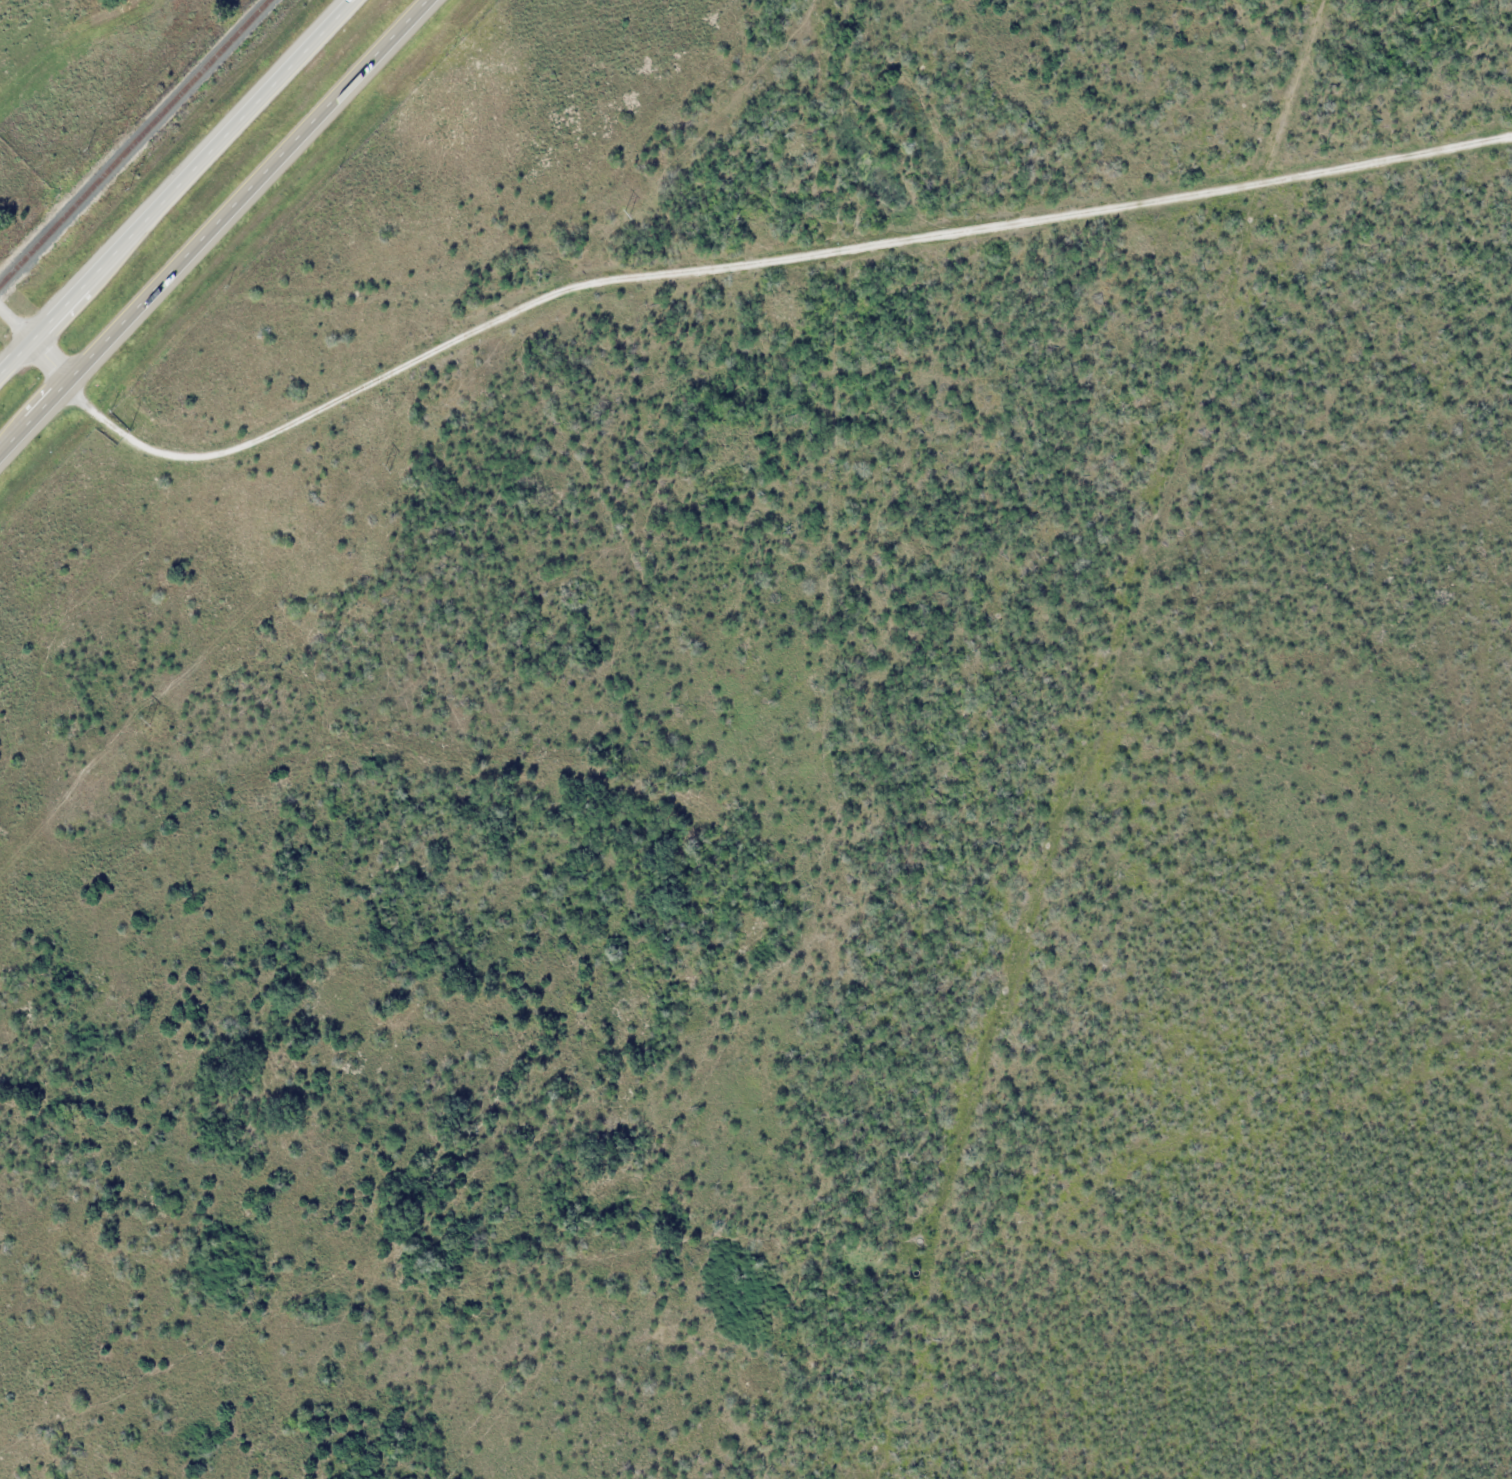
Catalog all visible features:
railway: (134, 143)
road: (179, 187)
power tower: (627, 212)
road: (214, 224)
road: (760, 265)
road: (33, 343)
power tower: (388, 468)
power tower: (148, 723)

